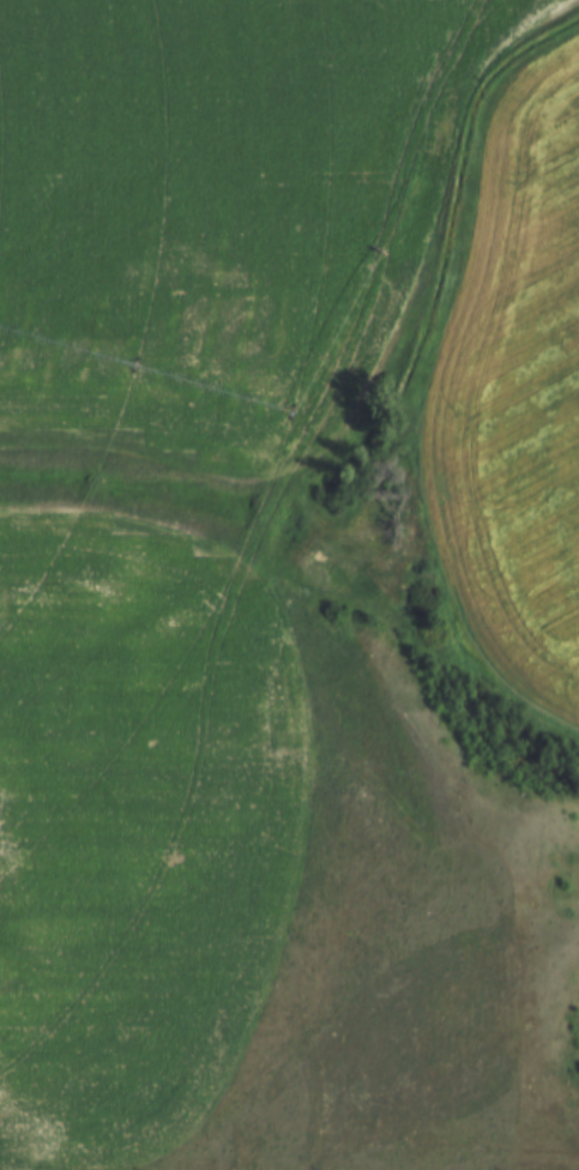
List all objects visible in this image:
road: (320, 228)

